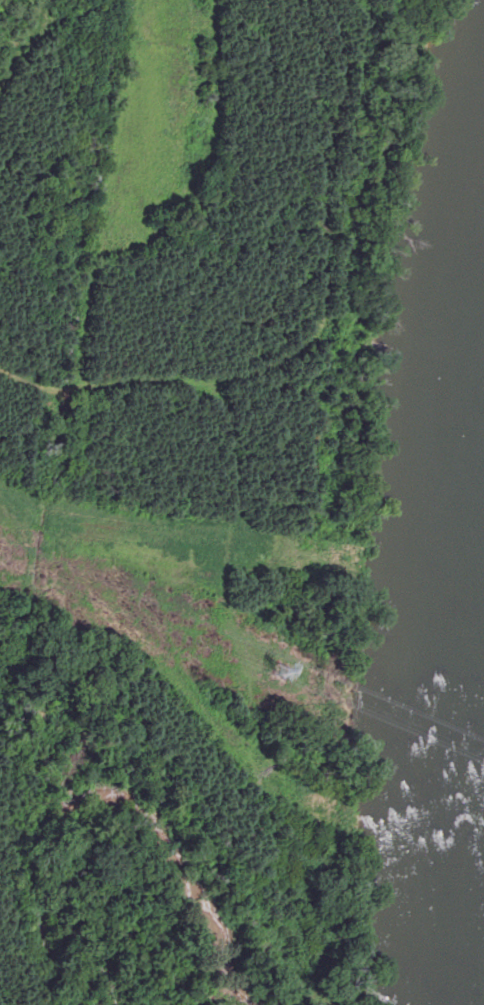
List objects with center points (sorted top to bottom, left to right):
power tower: (279, 673)

